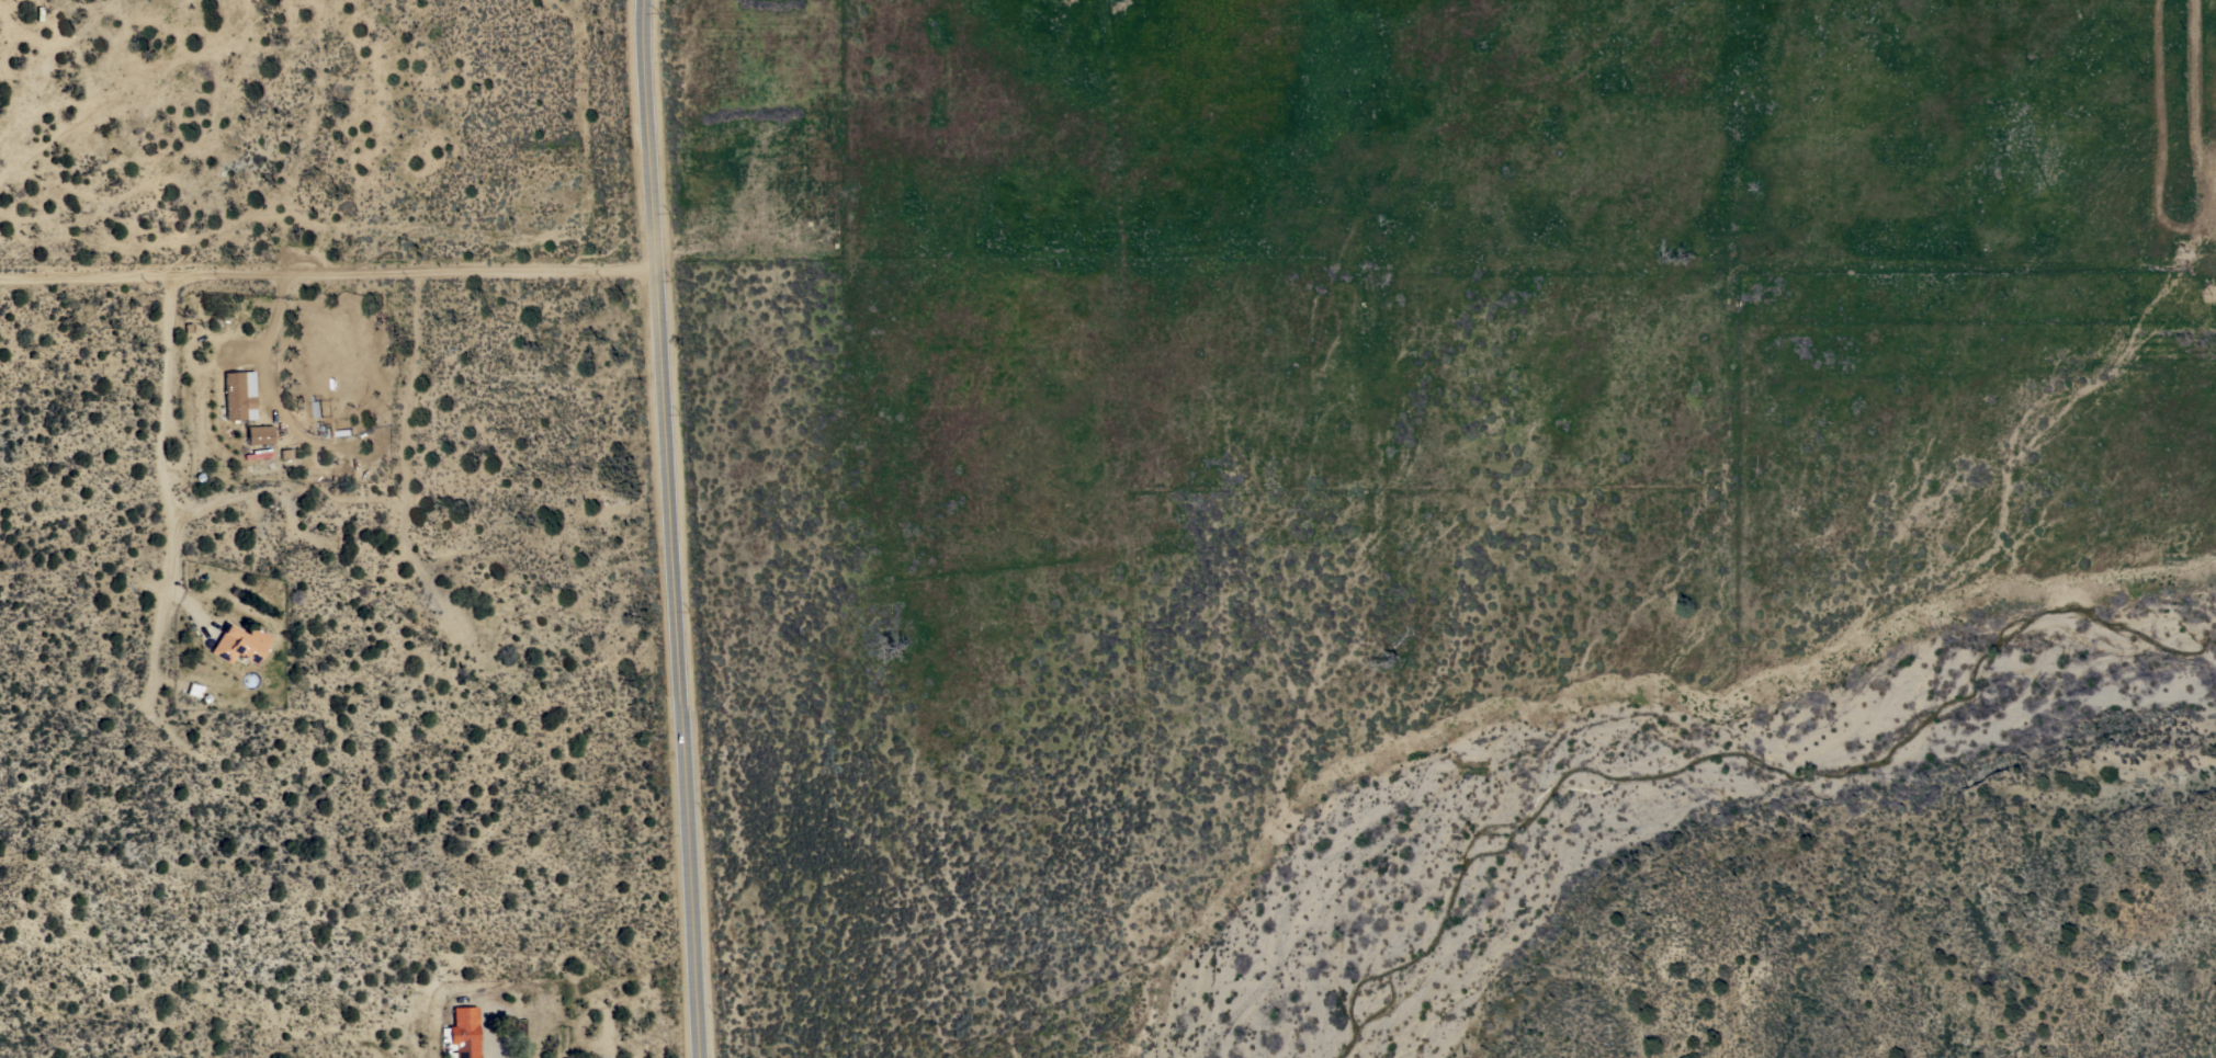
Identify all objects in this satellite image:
road: (2195, 79)
road: (324, 273)
building: (238, 394)
building: (317, 409)
building: (259, 434)
road: (165, 436)
road: (666, 528)
building: (238, 644)
building: (462, 1032)

